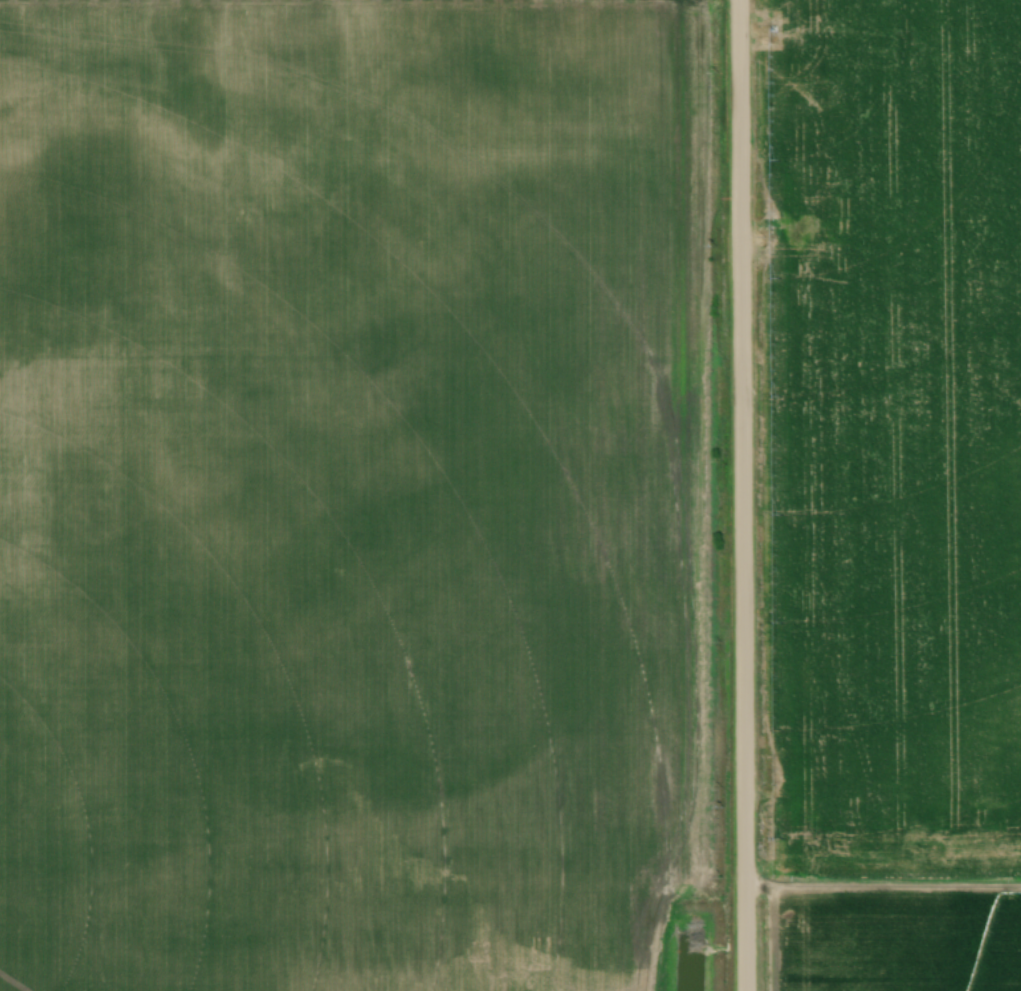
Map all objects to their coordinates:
road: (741, 495)

